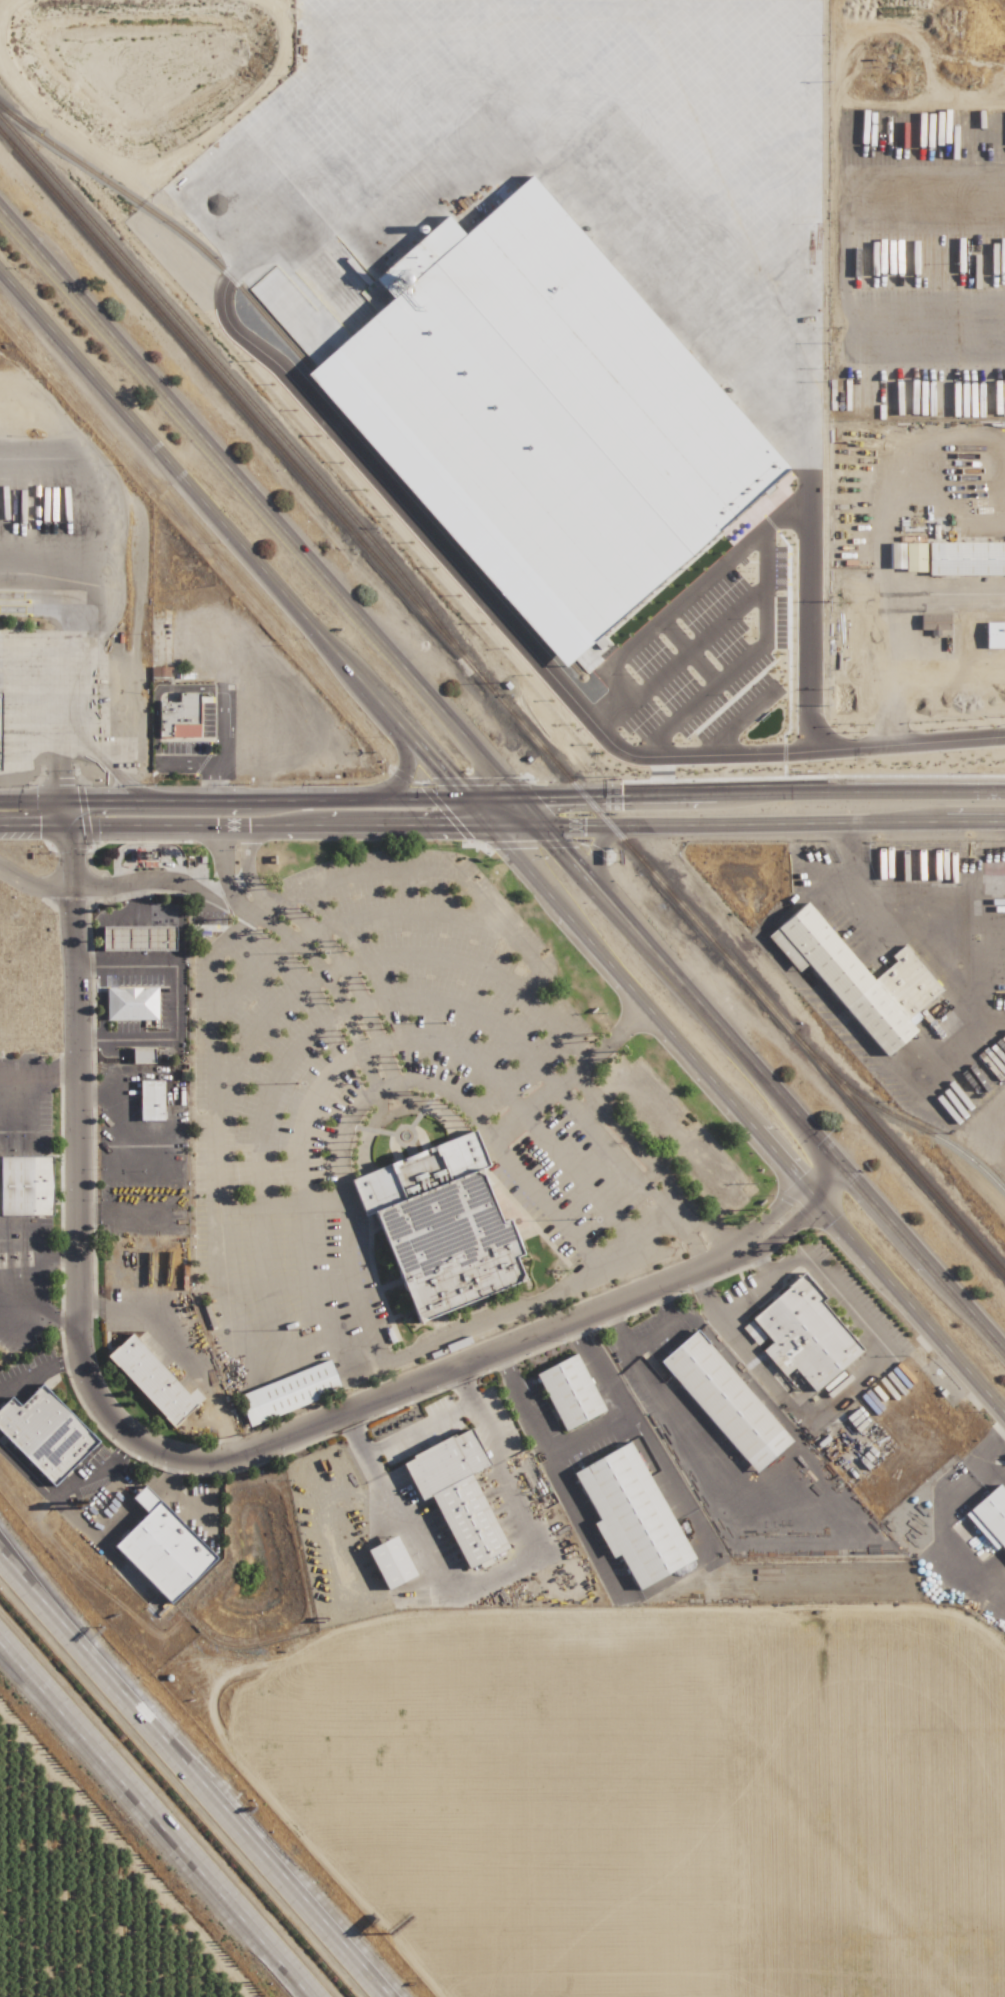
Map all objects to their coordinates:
railway: (231, 379)
building: (542, 418)
road: (49, 554)
building: (906, 556)
building: (966, 558)
road: (764, 567)
road: (97, 593)
road: (685, 601)
road: (762, 615)
building: (933, 623)
road: (895, 633)
building: (976, 637)
building: (994, 637)
road: (39, 693)
road: (897, 701)
railway: (503, 704)
building: (0, 716)
building: (179, 716)
road: (906, 747)
road: (223, 750)
road: (60, 758)
road: (404, 766)
road: (502, 780)
road: (761, 793)
traffic signals: (518, 798)
traffic signals: (463, 799)
road: (259, 800)
traffic signals: (63, 801)
road: (772, 824)
traffic signals: (66, 825)
road: (270, 825)
traffic signals: (487, 826)
traffic signals: (541, 826)
road: (66, 828)
road: (501, 842)
road: (246, 867)
road: (597, 870)
road: (220, 877)
road: (149, 882)
road: (33, 888)
road: (498, 919)
road: (337, 920)
road: (890, 921)
building: (138, 937)
road: (337, 966)
building: (857, 978)
building: (131, 1003)
road: (176, 1003)
road: (376, 1040)
road: (289, 1051)
building: (142, 1054)
road: (39, 1081)
building: (150, 1099)
road: (393, 1116)
railway: (905, 1121)
road: (475, 1124)
road: (611, 1142)
building: (25, 1185)
road: (784, 1198)
road: (540, 1203)
road: (800, 1214)
road: (344, 1218)
building: (440, 1225)
road: (32, 1283)
road: (740, 1299)
building: (804, 1334)
road: (645, 1338)
road: (177, 1355)
road: (276, 1356)
road: (600, 1367)
road: (38, 1371)
building: (152, 1380)
building: (288, 1392)
building: (569, 1392)
building: (724, 1401)
road: (522, 1404)
road: (414, 1430)
building: (44, 1433)
road: (589, 1435)
road: (175, 1457)
road: (997, 1458)
road: (65, 1489)
road: (157, 1491)
building: (456, 1494)
road: (166, 1497)
road: (942, 1499)
road: (146, 1500)
building: (631, 1515)
building: (990, 1516)
road: (95, 1536)
building: (162, 1547)
building: (390, 1562)
road: (6, 1565)
road: (972, 1574)
road: (804, 1580)
road: (676, 1585)
road: (197, 1778)
road: (160, 1818)

